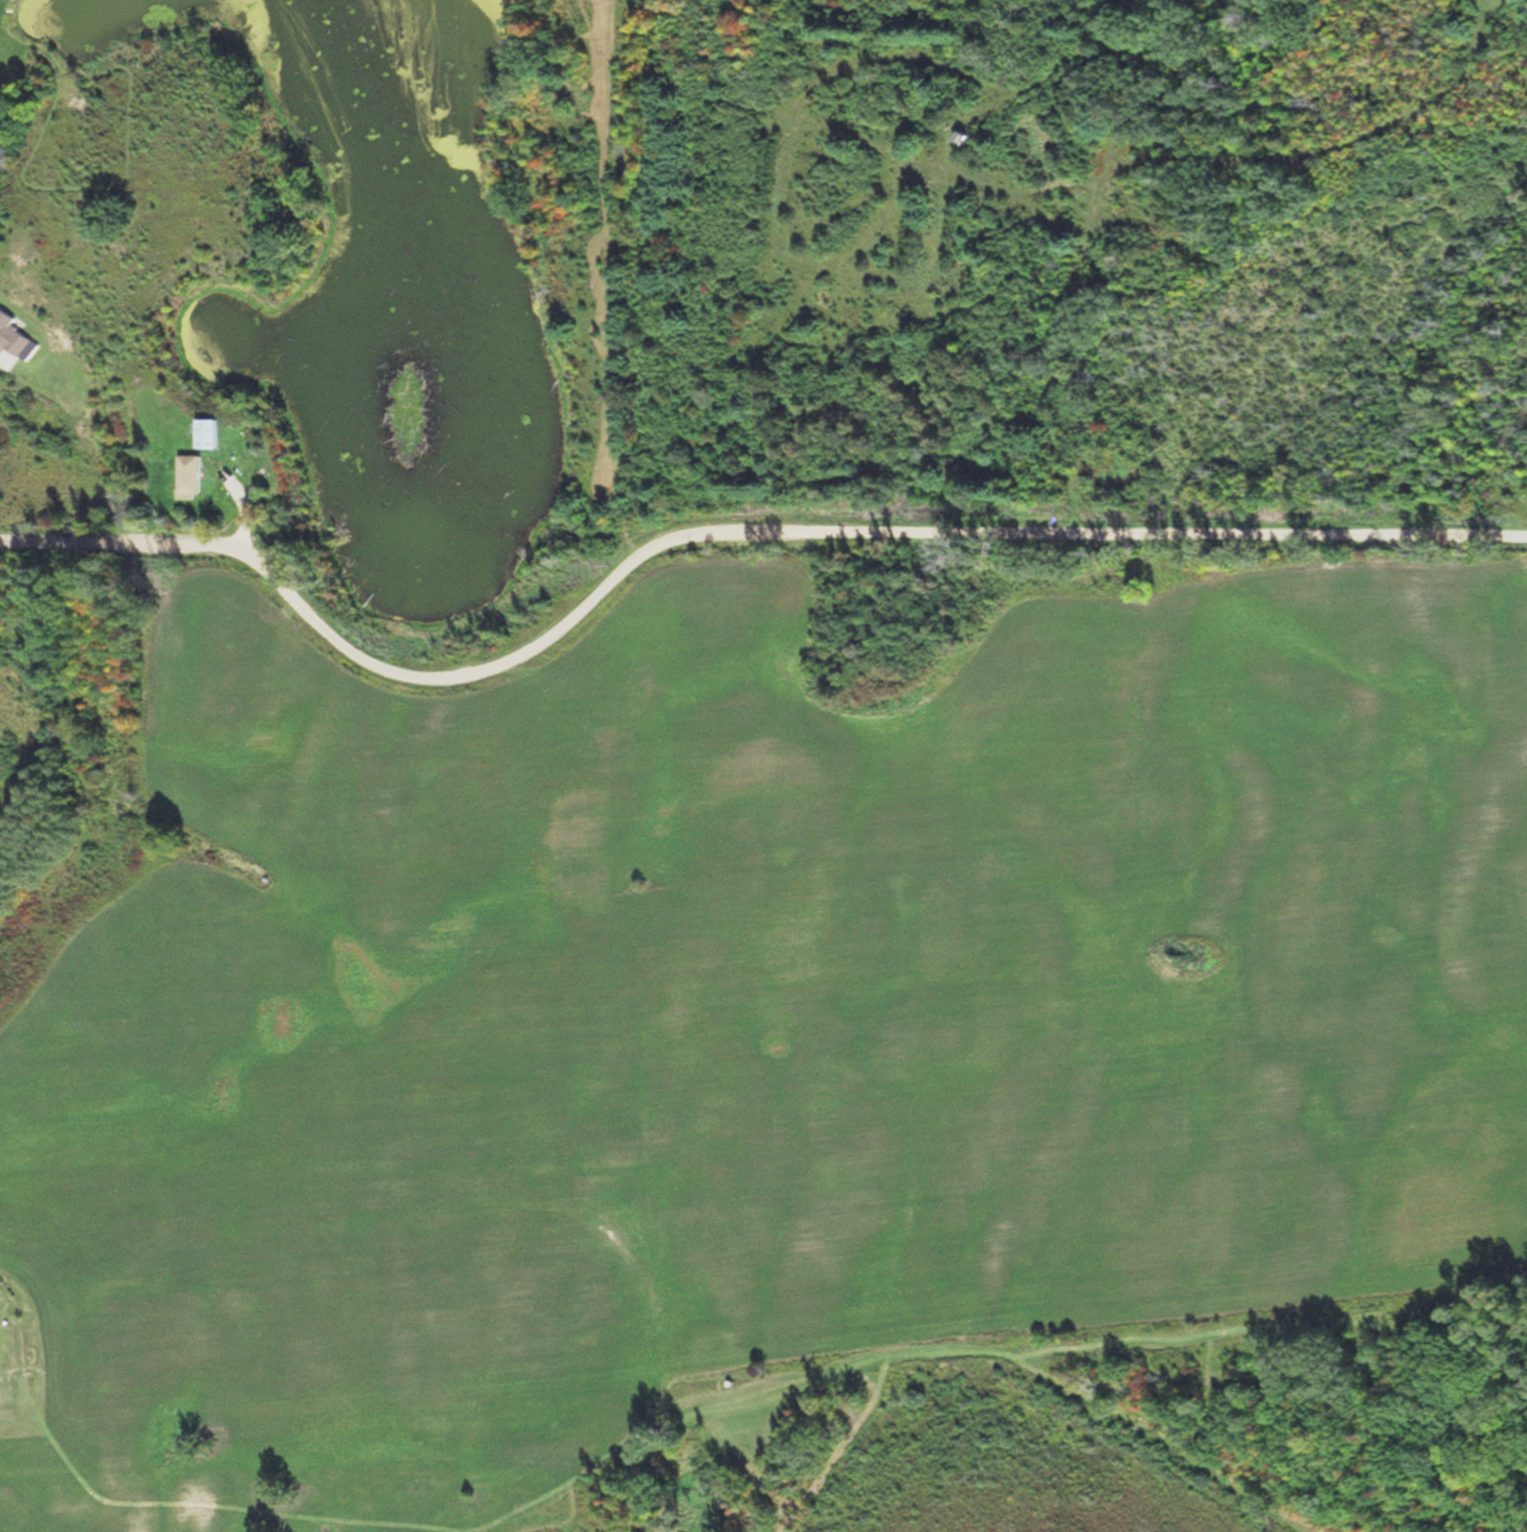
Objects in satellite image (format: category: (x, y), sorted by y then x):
building: (14, 337)
building: (208, 432)
building: (192, 477)
road: (714, 522)

